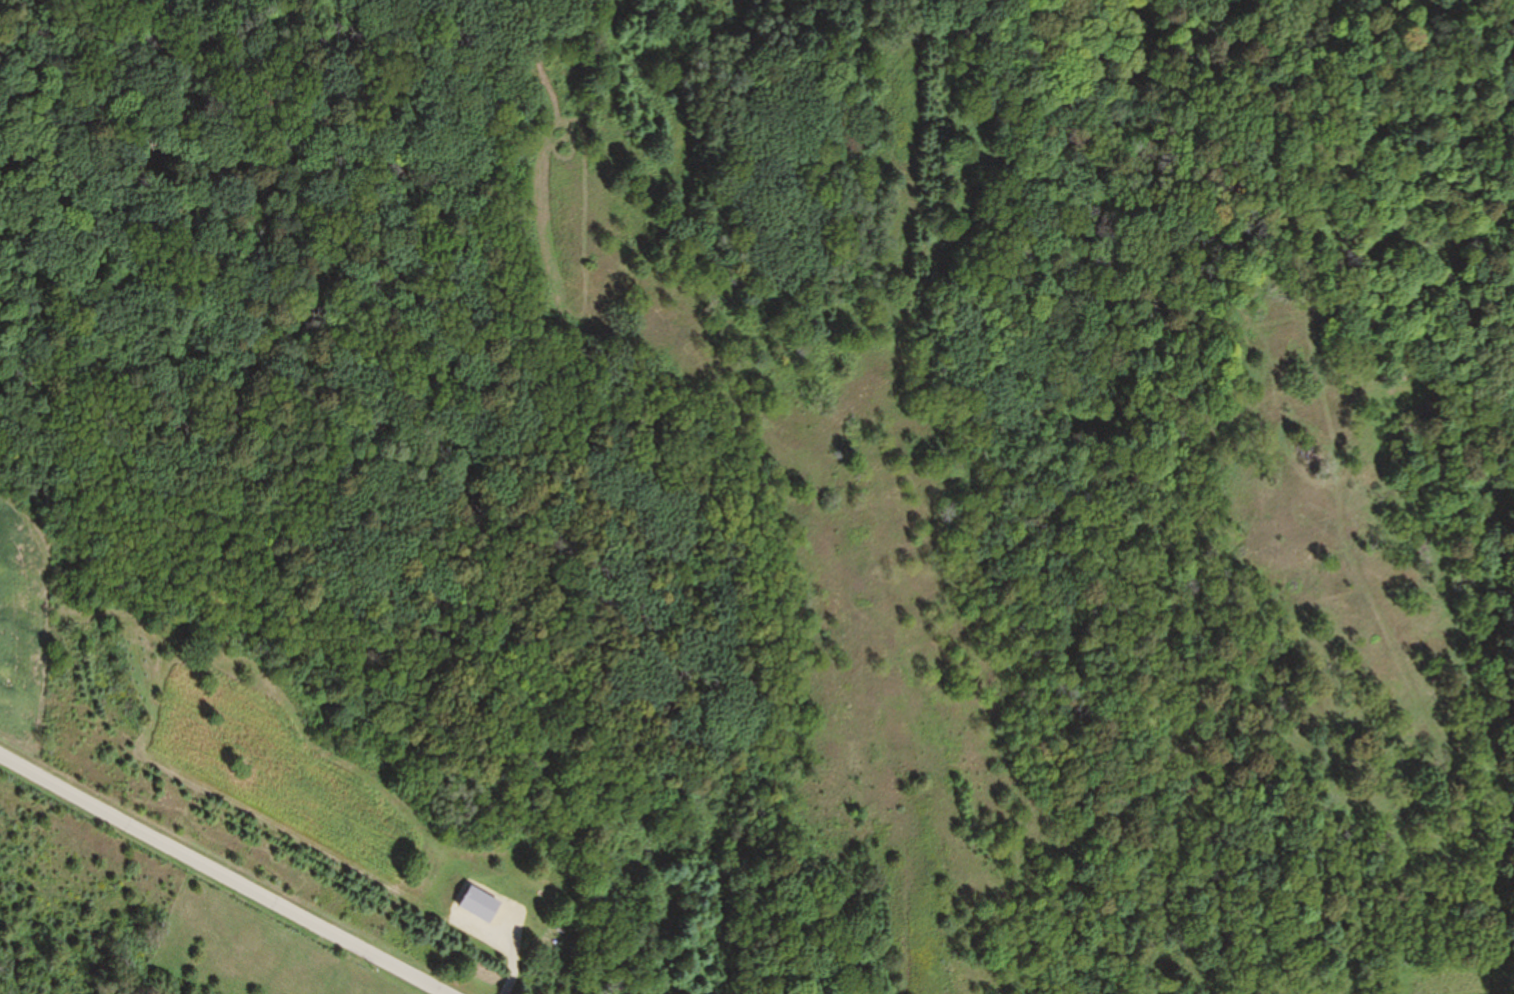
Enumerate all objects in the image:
road: (180, 887)

